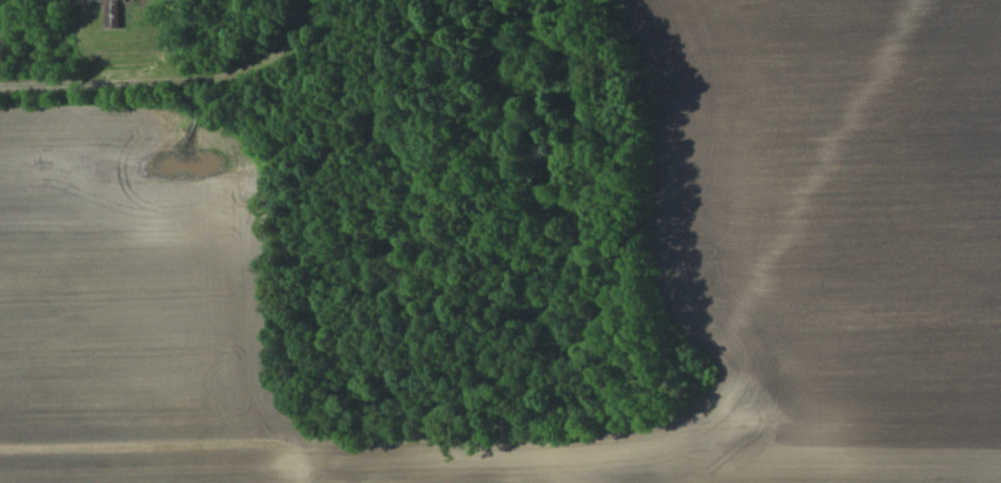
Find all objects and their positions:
road: (173, 86)

